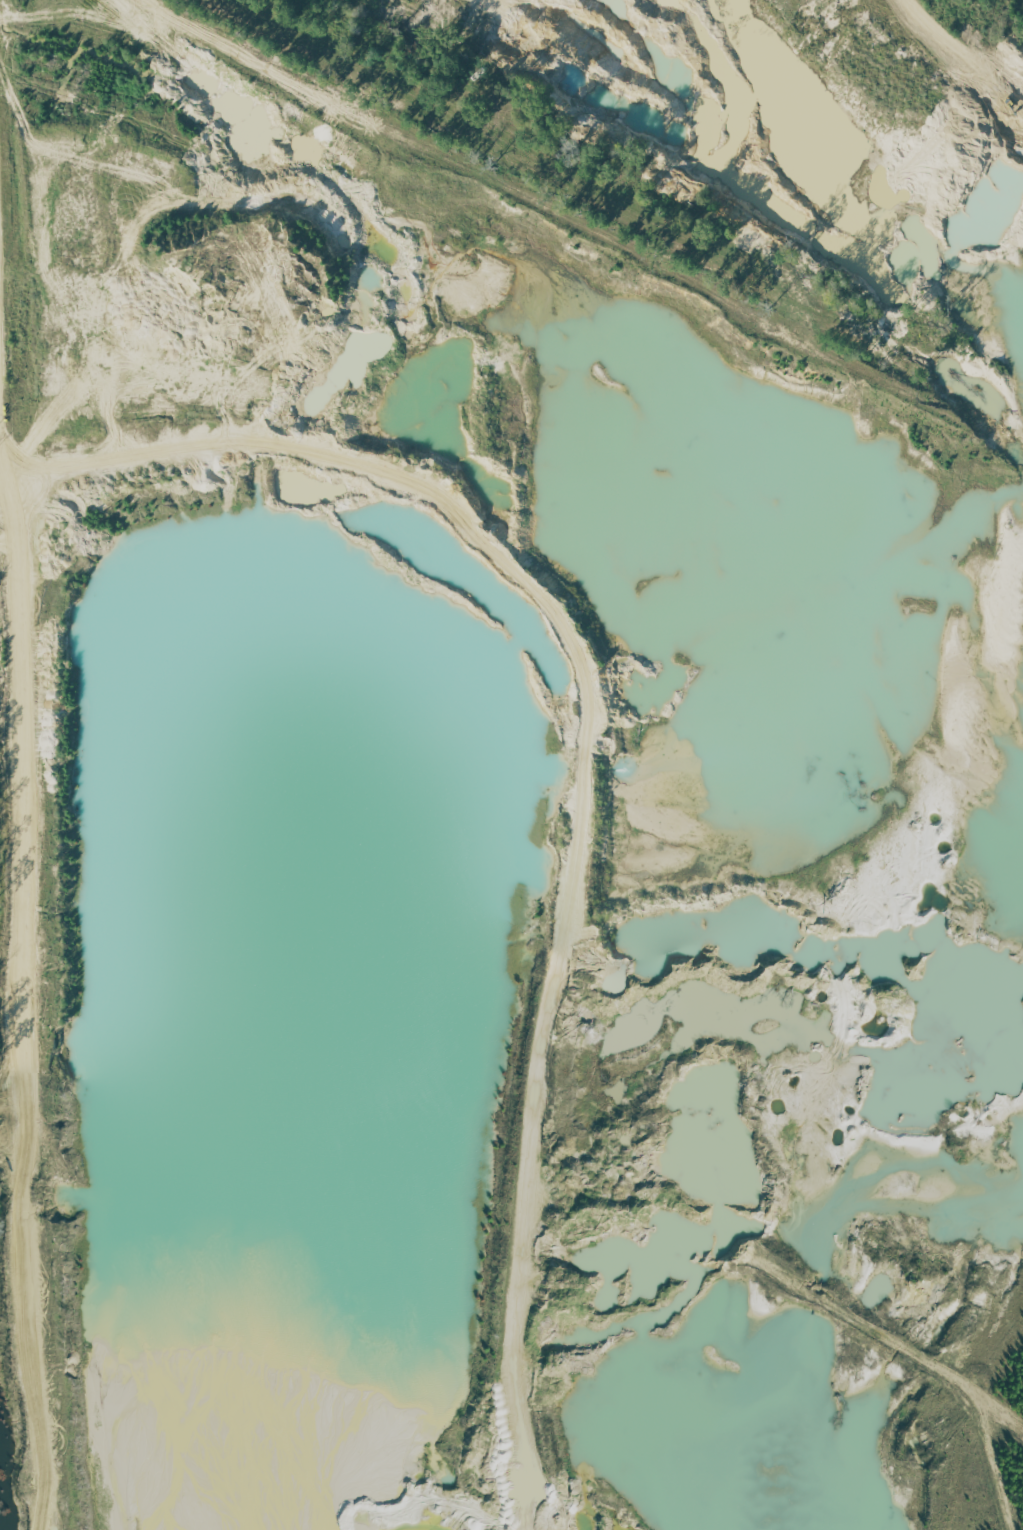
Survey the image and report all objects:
road: (10, 479)
road: (590, 750)
road: (18, 1021)

